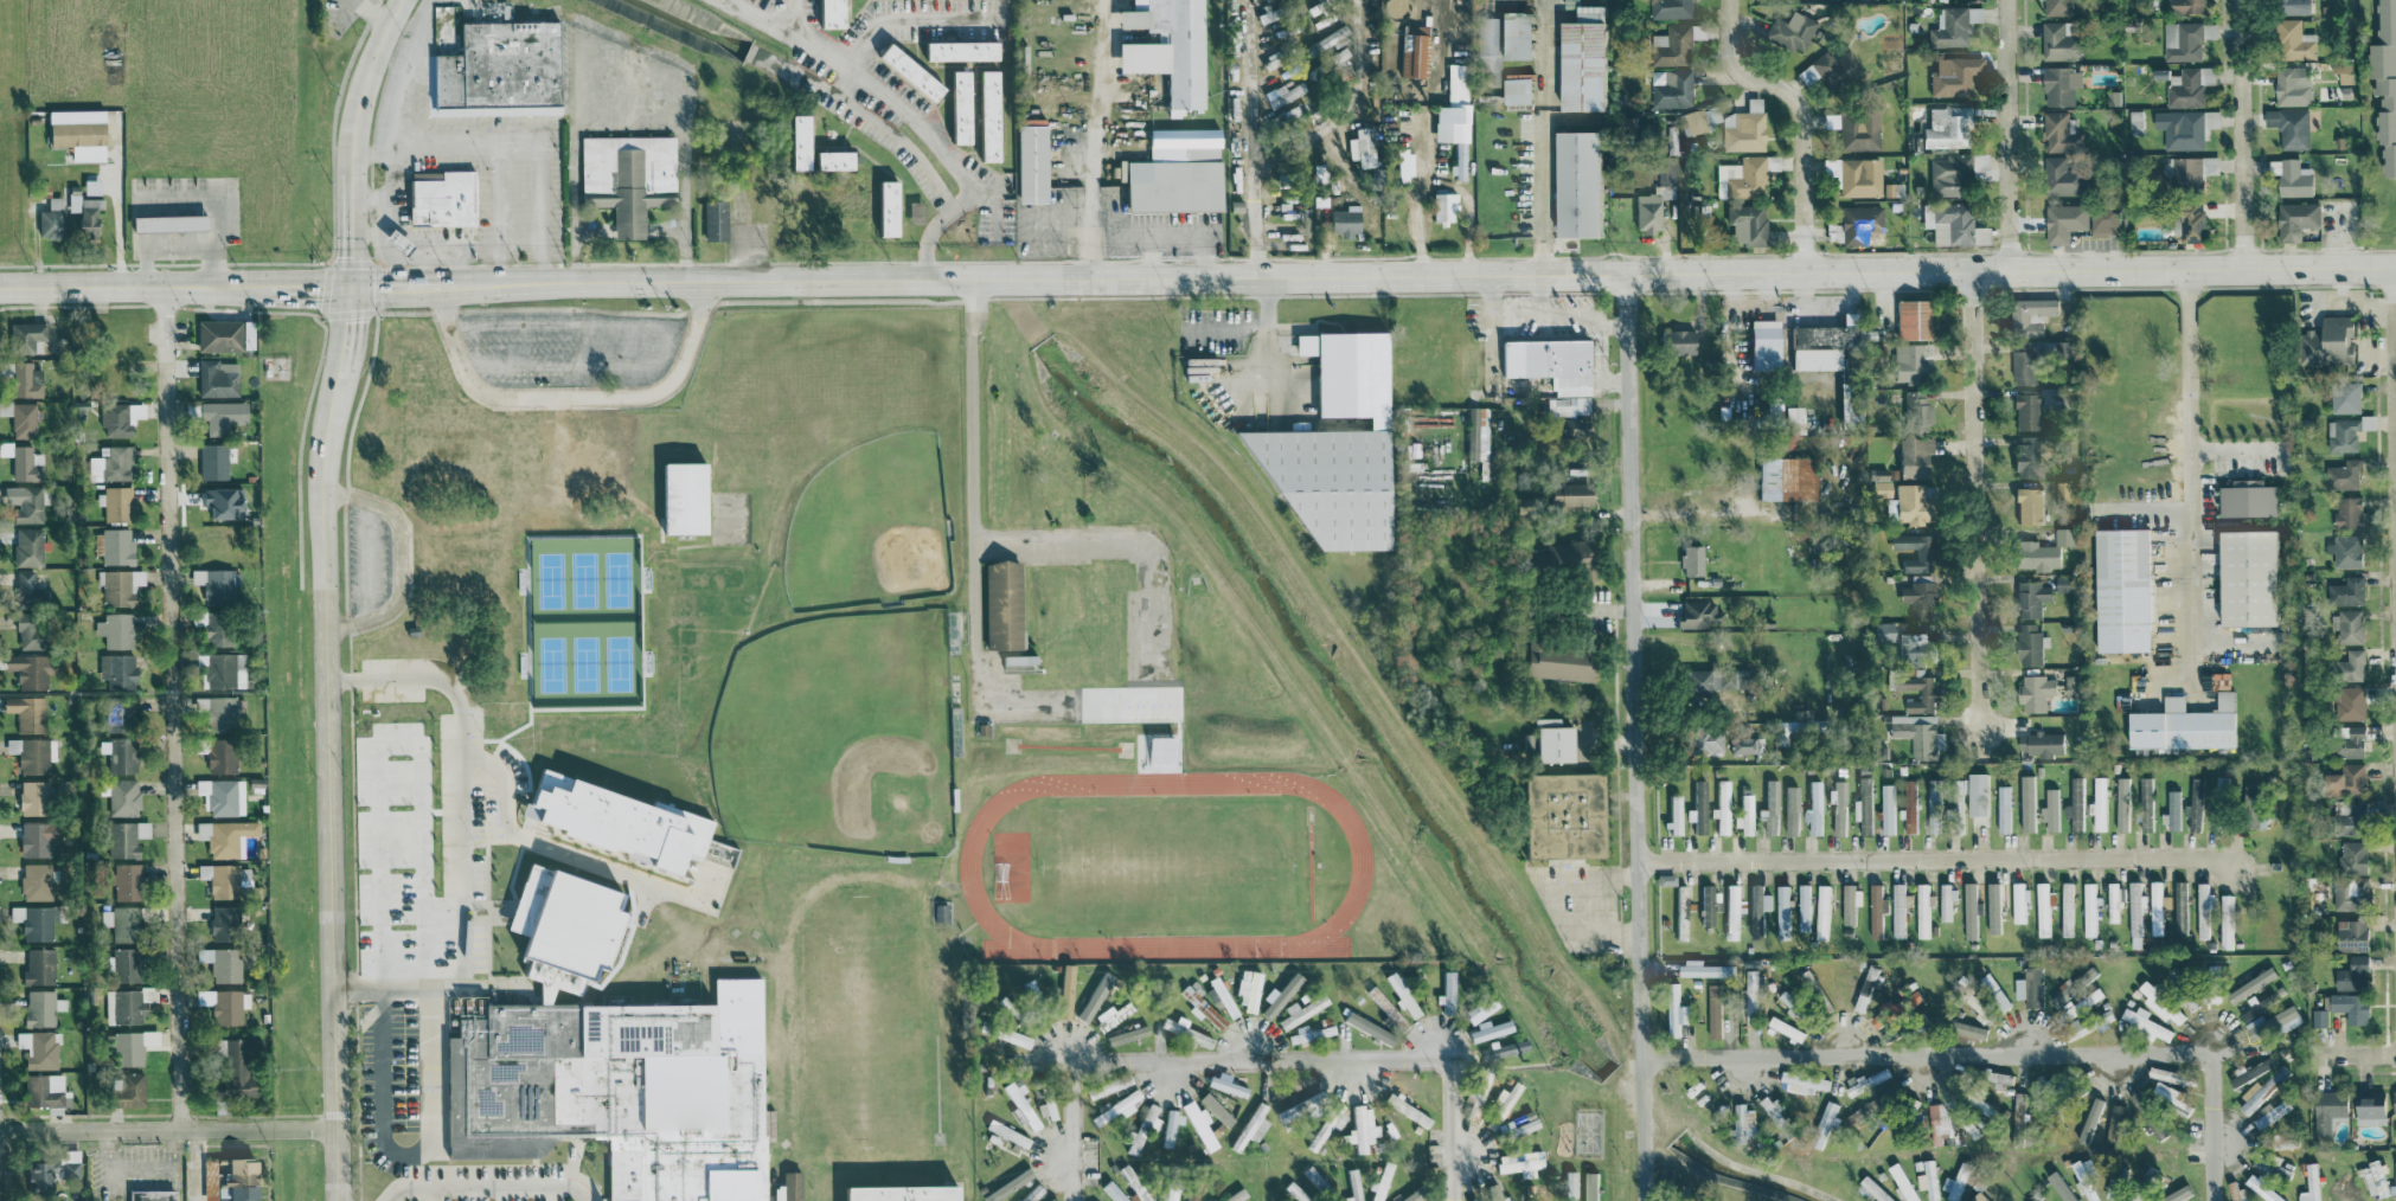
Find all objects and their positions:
building: (1568, 2)
building: (2185, 6)
building: (2289, 6)
building: (2057, 7)
building: (1668, 8)
building: (826, 13)
road: (790, 14)
road: (909, 18)
building: (1953, 25)
river: (690, 27)
building: (1790, 30)
building: (1513, 34)
building: (2293, 39)
building: (2182, 40)
building: (2057, 41)
building: (1671, 45)
building: (1165, 47)
building: (959, 50)
building: (1412, 50)
building: (1487, 52)
building: (1580, 58)
building: (1830, 69)
road: (403, 70)
building: (499, 70)
building: (2341, 70)
building: (905, 71)
building: (1953, 75)
road: (866, 78)
building: (2384, 82)
building: (2059, 84)
building: (2292, 84)
building: (2189, 86)
building: (1670, 88)
building: (1281, 95)
building: (2113, 96)
building: (956, 107)
road: (1356, 111)
road: (1095, 113)
building: (985, 115)
road: (1799, 115)
building: (1453, 116)
building: (2135, 117)
building: (2288, 126)
road: (623, 128)
building: (1743, 128)
building: (1945, 128)
building: (2180, 128)
building: (1852, 129)
road: (891, 131)
road: (2240, 133)
road: (2009, 134)
building: (76, 135)
road: (1543, 136)
road: (1256, 137)
building: (795, 141)
road: (513, 144)
road: (1428, 154)
building: (829, 159)
building: (1029, 163)
building: (1402, 165)
river: (922, 168)
road: (386, 171)
building: (2192, 171)
building: (1172, 172)
building: (1666, 172)
building: (1953, 172)
building: (1854, 175)
building: (626, 176)
building: (1742, 176)
building: (2061, 176)
building: (2291, 176)
building: (1575, 182)
building: (438, 198)
road: (219, 200)
road: (120, 201)
building: (882, 207)
building: (1441, 207)
building: (1651, 207)
road: (385, 210)
building: (83, 212)
building: (912, 212)
road: (498, 214)
building: (2102, 218)
building: (49, 219)
building: (713, 219)
building: (2294, 219)
building: (1343, 220)
building: (2063, 220)
building: (2189, 220)
building: (165, 221)
building: (1745, 224)
building: (1853, 224)
building: (1950, 224)
road: (1053, 225)
road: (629, 229)
road: (935, 229)
road: (685, 238)
building: (392, 242)
road: (574, 242)
road: (36, 243)
road: (156, 246)
road: (433, 251)
road: (1088, 251)
road: (747, 256)
road: (391, 257)
road: (396, 274)
road: (1197, 277)
traffic signals: (352, 288)
road: (1516, 314)
building: (2030, 314)
road: (1582, 319)
building: (1910, 319)
road: (571, 325)
building: (218, 334)
building: (25, 336)
building: (1674, 341)
building: (2327, 342)
building: (1820, 343)
road: (1267, 345)
building: (1762, 345)
building: (2035, 359)
building: (1909, 361)
building: (1548, 362)
road: (1602, 362)
road: (574, 365)
road: (2395, 375)
building: (216, 378)
road: (2189, 394)
road: (574, 397)
building: (2345, 397)
building: (1567, 406)
building: (1914, 410)
building: (2024, 411)
building: (220, 416)
building: (19, 418)
building: (117, 418)
building: (1792, 419)
road: (560, 430)
building: (1568, 430)
building: (1476, 433)
building: (2343, 433)
building: (1332, 448)
building: (1913, 456)
building: (2024, 456)
building: (212, 461)
building: (25, 464)
building: (110, 464)
building: (1552, 471)
building: (2343, 474)
building: (1785, 479)
building: (1878, 486)
building: (2063, 492)
road: (974, 493)
building: (1568, 495)
building: (2246, 497)
road: (1975, 500)
building: (21, 502)
building: (219, 502)
building: (115, 503)
building: (1907, 505)
building: (2027, 505)
building: (2347, 510)
road: (1691, 512)
park: (870, 527)
road: (451, 528)
building: (528, 528)
building: (115, 546)
building: (26, 547)
building: (2042, 550)
building: (2345, 550)
building: (1923, 553)
building: (1567, 558)
road: (403, 559)
road: (369, 560)
building: (1690, 560)
building: (2246, 577)
building: (2063, 583)
building: (217, 585)
building: (118, 586)
building: (26, 590)
building: (2346, 591)
road: (326, 593)
building: (1917, 598)
building: (2031, 598)
building: (1000, 604)
road: (1610, 608)
building: (1697, 614)
building: (2347, 625)
road: (1154, 627)
building: (213, 629)
building: (27, 630)
building: (114, 630)
building: (1882, 631)
building: (2027, 643)
building: (1911, 646)
building: (1557, 662)
building: (2349, 666)
building: (222, 669)
building: (26, 670)
building: (116, 670)
road: (2176, 674)
building: (1705, 680)
building: (2215, 680)
building: (2035, 692)
building: (1926, 694)
river: (1338, 696)
building: (2349, 701)
road: (173, 708)
building: (25, 712)
building: (217, 712)
building: (2183, 724)
building: (1917, 733)
park: (839, 736)
road: (1635, 737)
building: (1550, 740)
building: (1703, 740)
building: (2347, 740)
building: (1741, 741)
building: (2039, 743)
building: (31, 753)
building: (118, 754)
park: (392, 770)
road: (461, 773)
building: (2344, 781)
building: (1978, 794)
building: (222, 796)
building: (123, 797)
building: (30, 798)
building: (2026, 803)
building: (2122, 803)
building: (2146, 803)
building: (1910, 804)
building: (1955, 804)
building: (2075, 804)
building: (2099, 804)
building: (1770, 805)
building: (1865, 805)
building: (2193, 805)
building: (1699, 807)
building: (1722, 807)
building: (1838, 807)
building: (1814, 808)
building: (1888, 808)
building: (2004, 808)
building: (2049, 809)
building: (2173, 809)
building: (1792, 810)
building: (1674, 814)
building: (1562, 815)
building: (1745, 815)
building: (2347, 817)
building: (611, 823)
building: (224, 836)
building: (123, 837)
building: (36, 839)
road: (546, 848)
park: (393, 854)
building: (2352, 856)
road: (1937, 859)
track: (968, 860)
track: (1164, 862)
park: (1165, 865)
building: (1665, 879)
building: (33, 881)
building: (126, 881)
building: (2318, 892)
building: (2349, 893)
road: (1546, 899)
building: (1946, 901)
building: (2019, 901)
building: (2113, 901)
building: (1847, 903)
road: (643, 904)
building: (1706, 905)
building: (2158, 906)
building: (2180, 906)
building: (1804, 907)
building: (1993, 907)
building: (1757, 908)
building: (1876, 908)
building: (2043, 908)
building: (2067, 908)
building: (2090, 908)
building: (1898, 910)
building: (1923, 910)
building: (1969, 910)
building: (2203, 910)
building: (1731, 911)
building: (1822, 911)
building: (1681, 912)
building: (1783, 912)
building: (15, 913)
building: (2135, 914)
building: (2227, 920)
building: (124, 923)
building: (223, 923)
building: (36, 924)
building: (2351, 935)
road: (423, 943)
road: (378, 944)
building: (122, 964)
building: (220, 964)
building: (37, 966)
building: (1702, 969)
building: (2352, 974)
building: (2250, 984)
building: (2029, 987)
road: (427, 989)
building: (1748, 989)
building: (1247, 990)
building: (1064, 991)
building: (1993, 991)
road: (1068, 993)
building: (1446, 993)
building: (1398, 994)
building: (1279, 995)
building: (2210, 995)
building: (1095, 996)
building: (1221, 997)
building: (1788, 1003)
building: (2160, 1003)
building: (1199, 1006)
building: (2350, 1006)
building: (39, 1007)
building: (122, 1007)
building: (228, 1007)
building: (1479, 1009)
building: (1673, 1010)
building: (1713, 1010)
building: (1300, 1011)
building: (1110, 1015)
building: (1394, 1017)
building: (2319, 1017)
building: (2273, 1021)
building: (2144, 1022)
park: (865, 1025)
building: (1366, 1028)
building: (1183, 1030)
building: (1488, 1030)
building: (1966, 1030)
building: (1126, 1035)
building: (1017, 1039)
building: (127, 1047)
building: (36, 1048)
building: (1503, 1049)
road: (2004, 1052)
road: (2355, 1054)
road: (1332, 1058)
building: (611, 1066)
building: (237, 1067)
building: (2249, 1070)
building: (1997, 1078)
building: (1801, 1081)
building: (1866, 1081)
building: (1107, 1086)
building: (1224, 1086)
building: (1416, 1088)
building: (2260, 1090)
building: (126, 1091)
building: (44, 1092)
building: (1476, 1094)
building: (2168, 1097)
building: (2394, 1102)
river: (1644, 1105)
building: (1980, 1105)
building: (1019, 1106)
building: (1499, 1106)
building: (2368, 1107)
building: (1215, 1109)
building: (1772, 1109)
building: (2326, 1109)
building: (1115, 1110)
road: (1071, 1112)
building: (1864, 1112)
building: (2269, 1112)
building: (1412, 1113)
building: (1742, 1122)
building: (1937, 1122)
building: (1822, 1124)
building: (1971, 1124)
building: (1326, 1125)
building: (1516, 1125)
building: (1250, 1126)
building: (2154, 1126)
road: (168, 1129)
building: (1362, 1129)
building: (1142, 1130)
building: (1005, 1133)
road: (409, 1155)
building: (1519, 1163)
road: (197, 1164)
road: (137, 1168)
building: (50, 1169)
river: (1742, 1173)
building: (1926, 1176)
building: (2373, 1177)
building: (236, 1181)
building: (1380, 1182)
building: (1902, 1182)
building: (1955, 1183)
building: (2309, 1183)
building: (2395, 1183)
building: (1133, 1184)
building: (1353, 1184)
road: (489, 1186)
building: (1006, 1186)
building: (1569, 1186)
building: (1589, 1186)
building: (1876, 1190)
building: (2264, 1190)
building: (899, 1192)
building: (1111, 1192)
building: (1536, 1192)
building: (2235, 1192)
building: (1168, 1194)
building: (1236, 1195)
building: (1975, 1197)
building: (2031, 1200)

